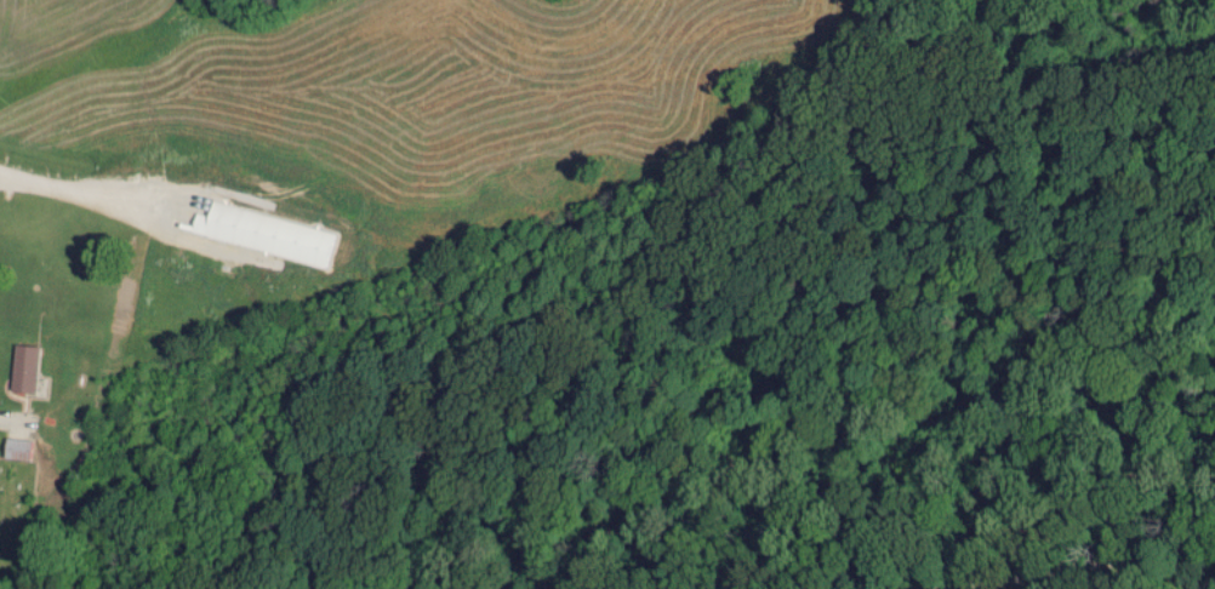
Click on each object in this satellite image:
building: (200, 215)
building: (22, 367)
building: (15, 447)

